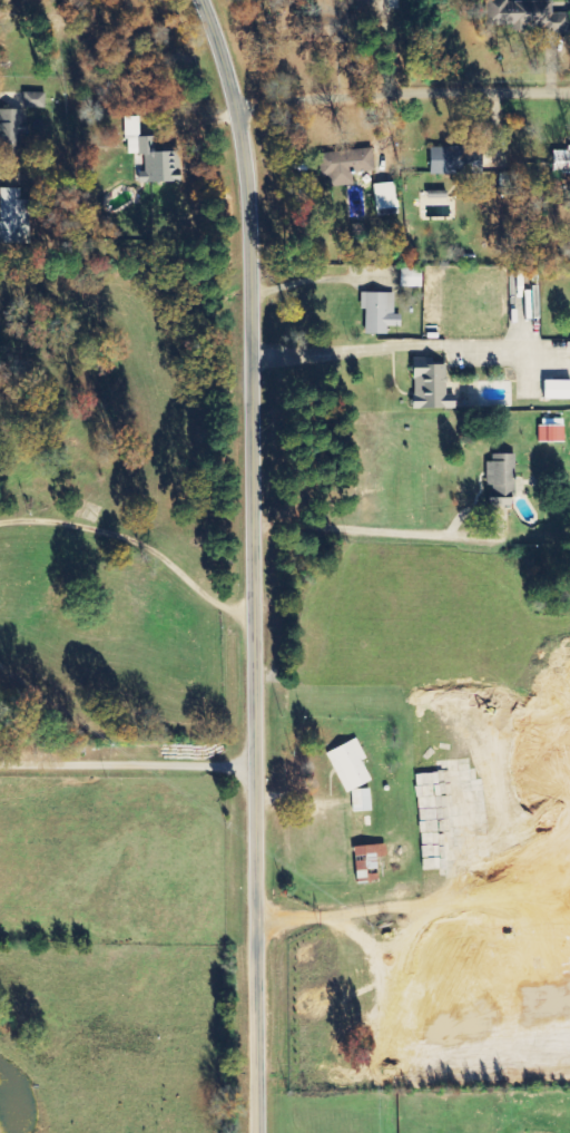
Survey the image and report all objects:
building: (523, 14)
building: (340, 21)
road: (404, 98)
building: (35, 100)
building: (11, 135)
building: (154, 154)
building: (449, 159)
building: (561, 162)
building: (350, 165)
building: (386, 195)
building: (13, 216)
building: (410, 282)
building: (380, 312)
building: (431, 387)
building: (557, 389)
building: (551, 430)
building: (501, 480)
road: (254, 564)
road: (127, 621)
building: (350, 765)
building: (362, 800)
building: (368, 862)
road: (127, 912)
road: (128, 1127)

